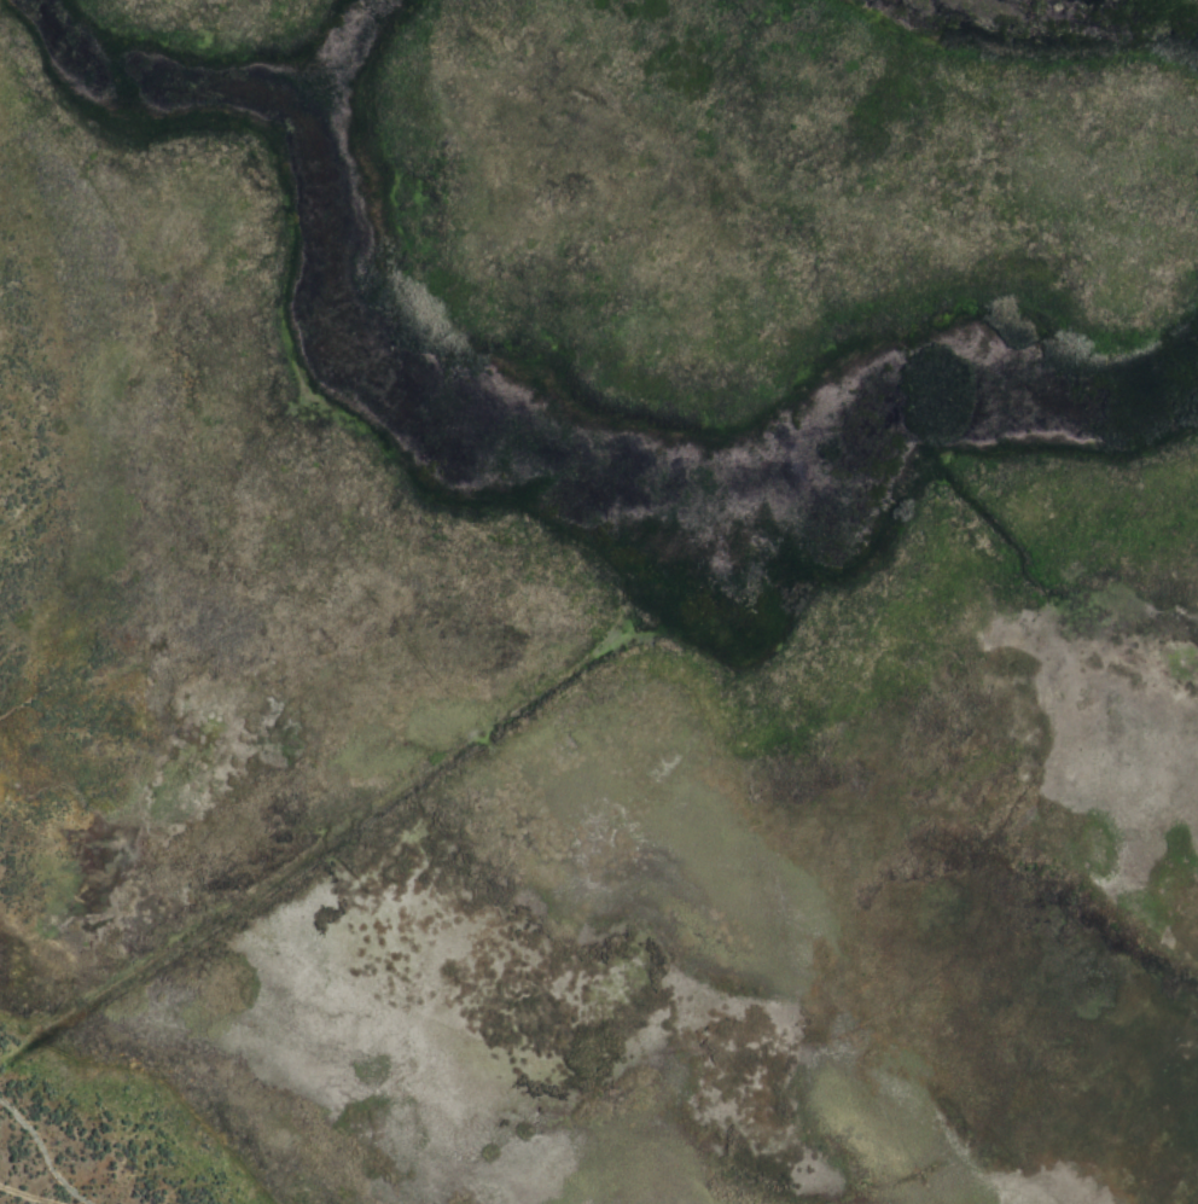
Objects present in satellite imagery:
crop: (599, 601)

